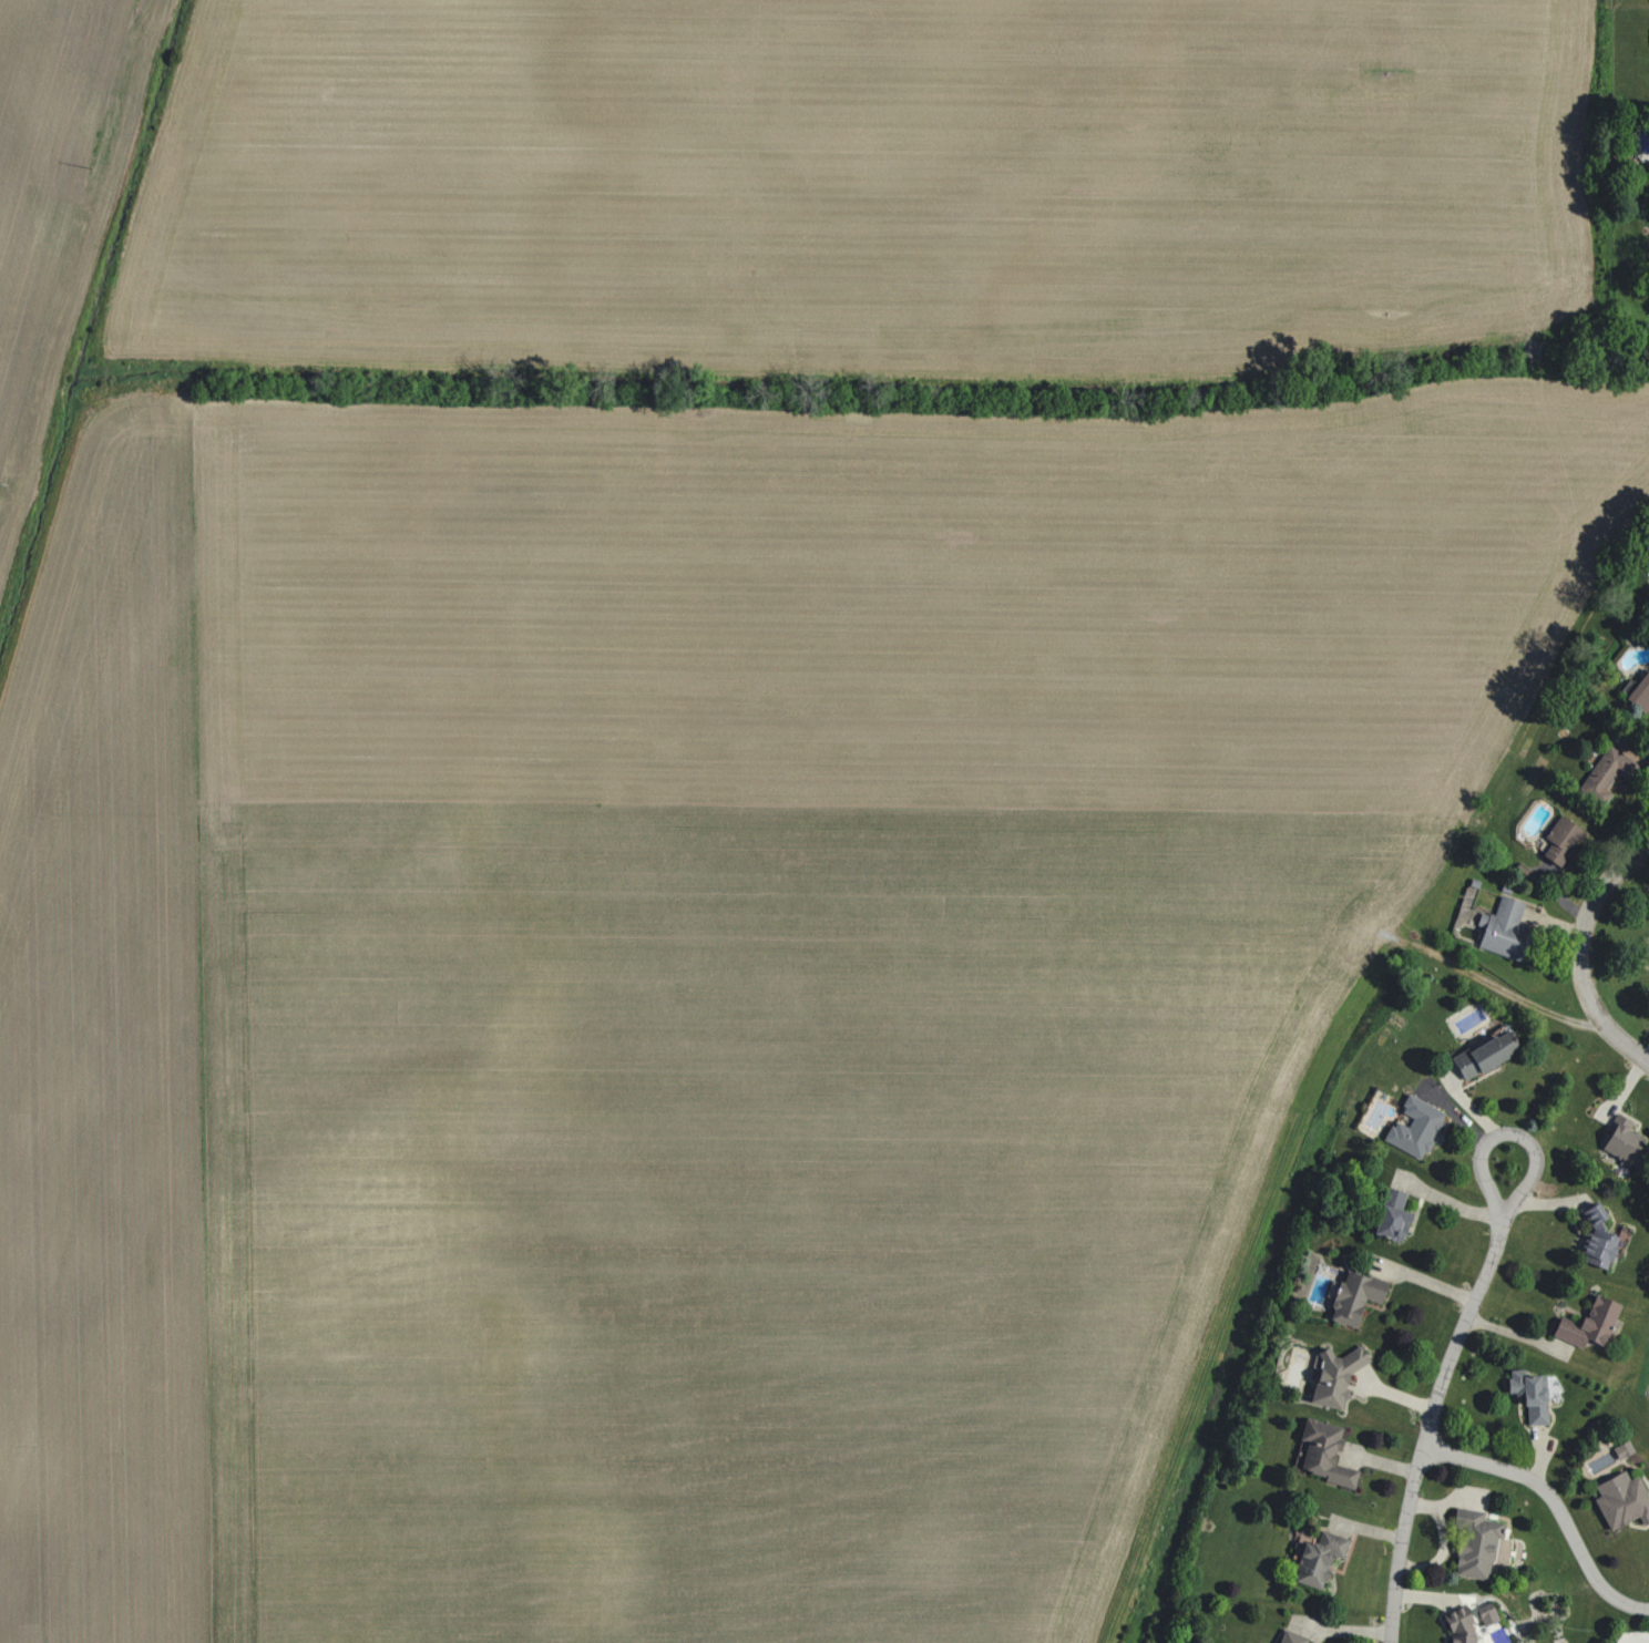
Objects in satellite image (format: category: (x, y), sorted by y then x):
building: (1639, 690)
building: (1605, 769)
building: (1558, 840)
building: (1501, 928)
road: (1580, 949)
building: (1481, 1054)
building: (1413, 1128)
road: (1491, 1136)
building: (1619, 1140)
building: (1389, 1216)
building: (1594, 1239)
building: (1353, 1296)
building: (1585, 1323)
building: (1332, 1377)
building: (1528, 1395)
road: (1424, 1423)
building: (1321, 1452)
road: (1559, 1493)
building: (1620, 1500)
building: (1472, 1543)
building: (1317, 1559)
building: (1485, 1615)
building: (1457, 1625)
building: (1288, 1637)

